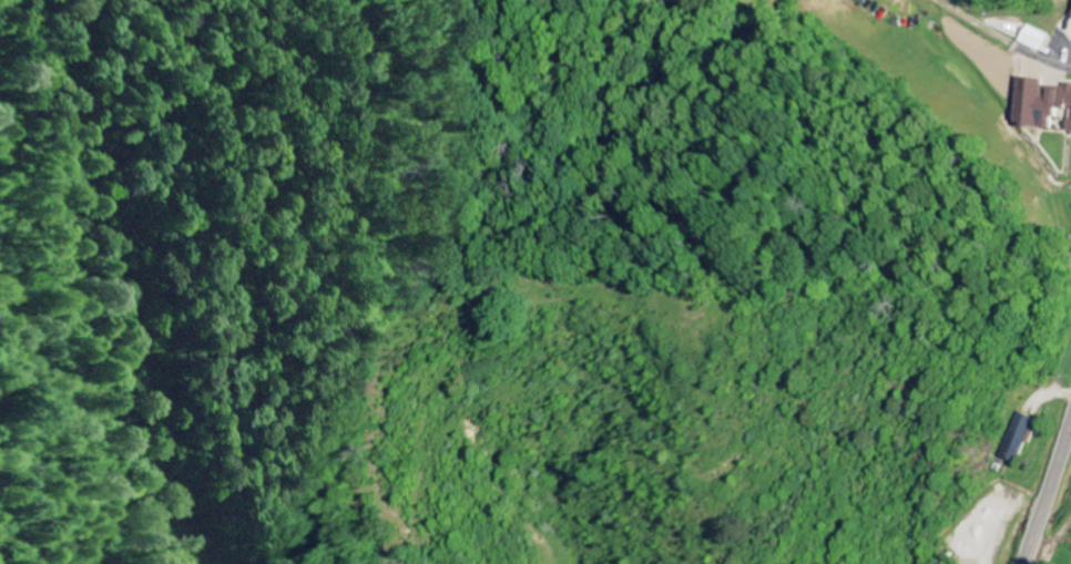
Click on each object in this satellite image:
building: (1032, 40)
road: (1001, 41)
building: (1043, 106)
building: (1014, 437)
road: (1057, 475)
road: (1037, 545)
building: (950, 563)

